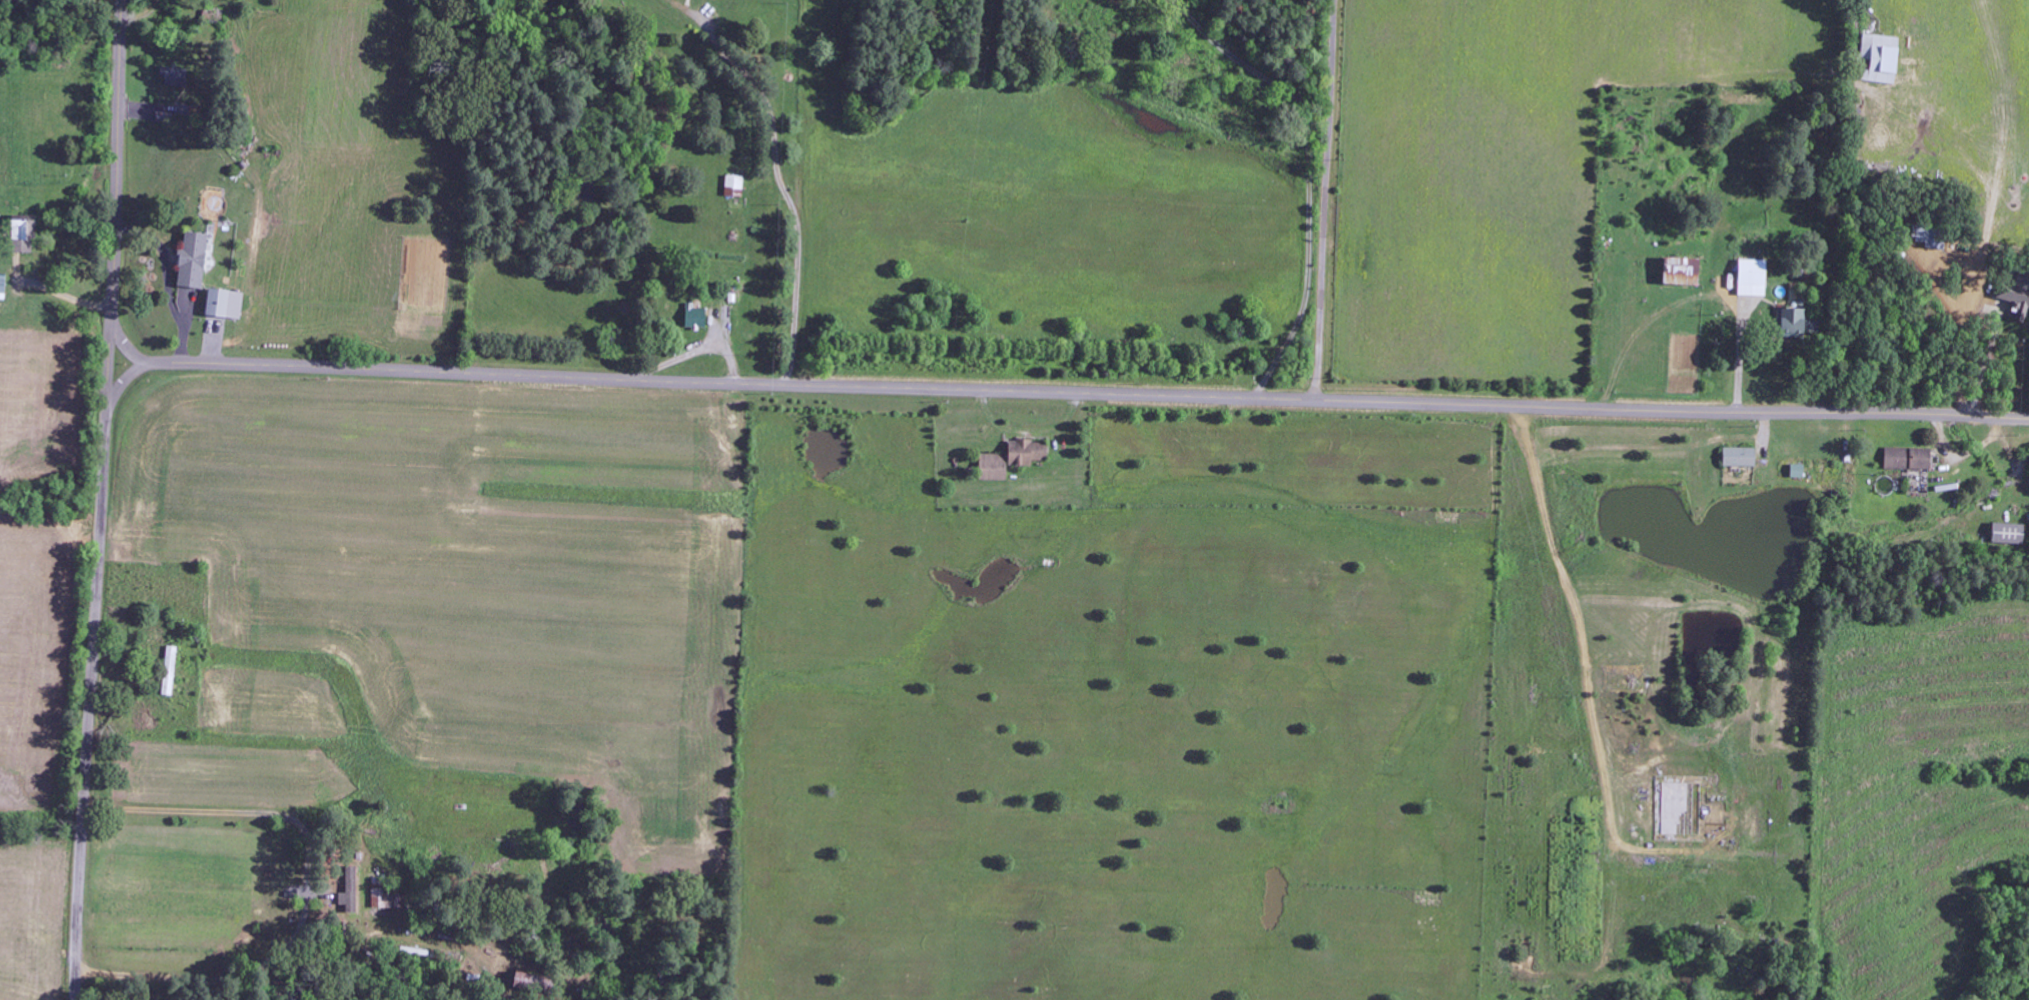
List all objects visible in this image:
building: (1877, 58)
building: (176, 78)
building: (735, 186)
road: (114, 190)
road: (728, 194)
road: (1325, 200)
road: (1301, 217)
building: (28, 237)
building: (195, 261)
building: (1679, 268)
building: (1747, 278)
building: (2014, 295)
building: (227, 304)
building: (697, 317)
building: (1791, 323)
road: (108, 358)
road: (1089, 394)
building: (1735, 457)
building: (1014, 459)
building: (1904, 459)
building: (2008, 534)
building: (171, 671)
road: (93, 672)
building: (382, 893)
building: (352, 896)
building: (538, 984)

